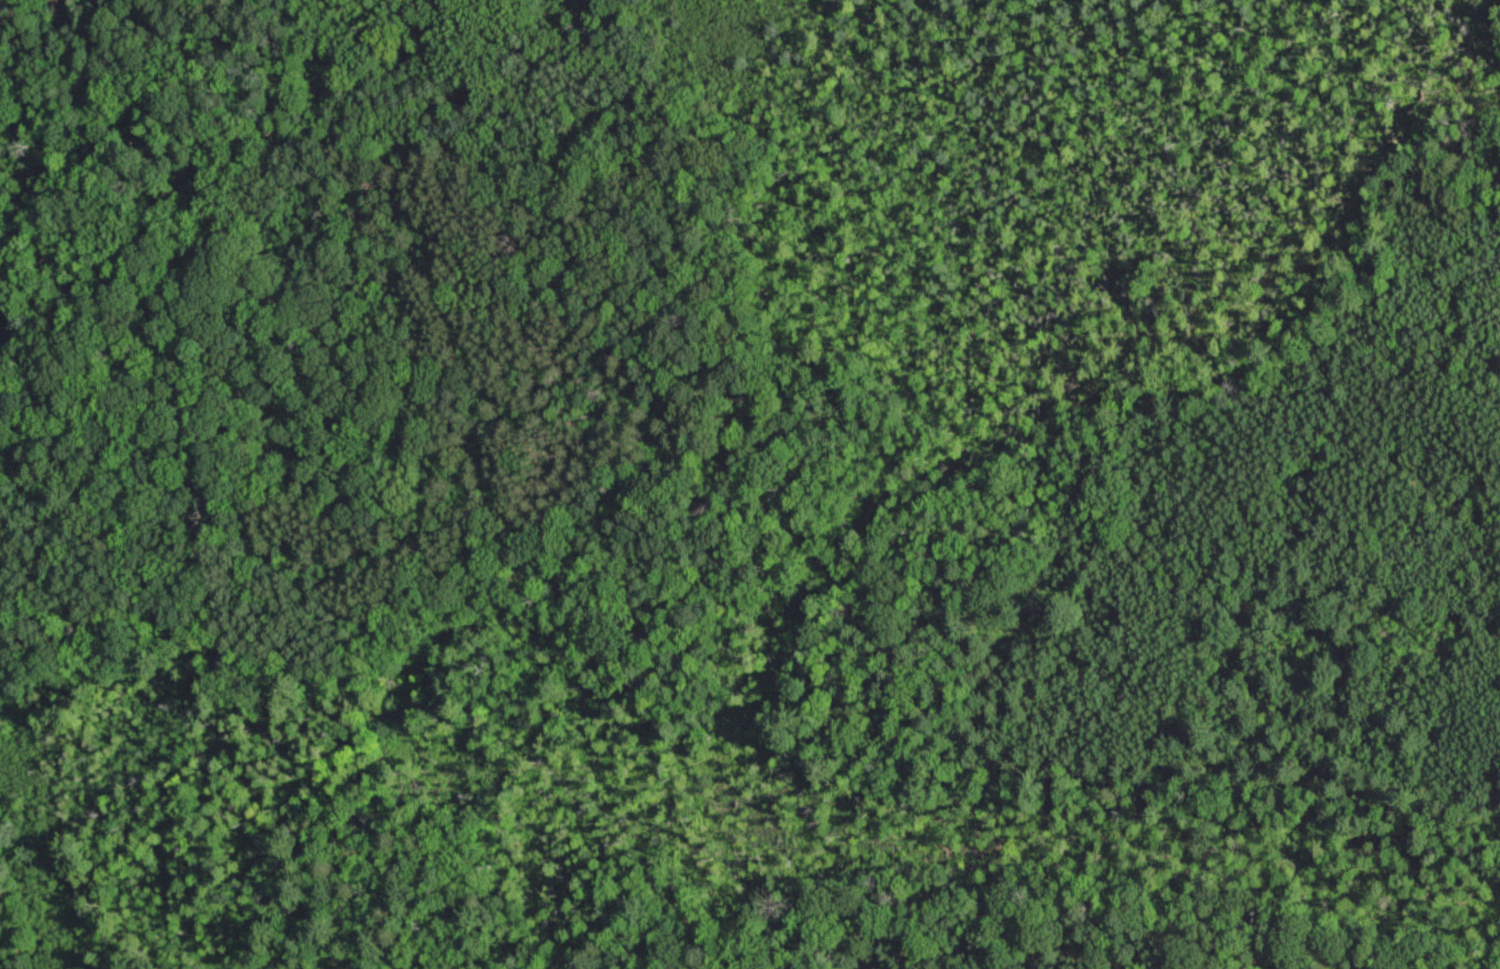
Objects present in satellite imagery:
building: (0, 3)

